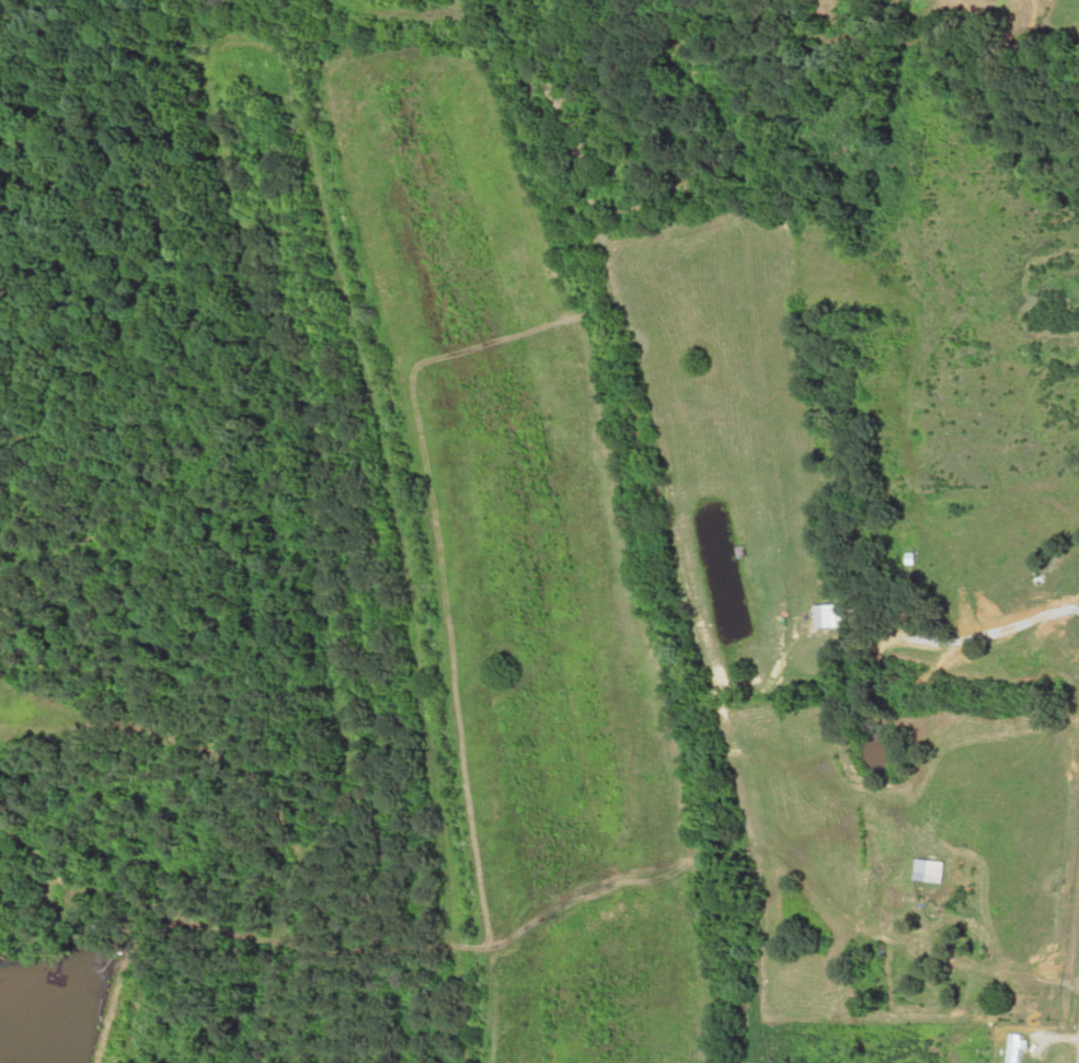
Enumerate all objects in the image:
building: (842, 617)
building: (938, 868)
road: (1075, 1021)
building: (1025, 1048)

